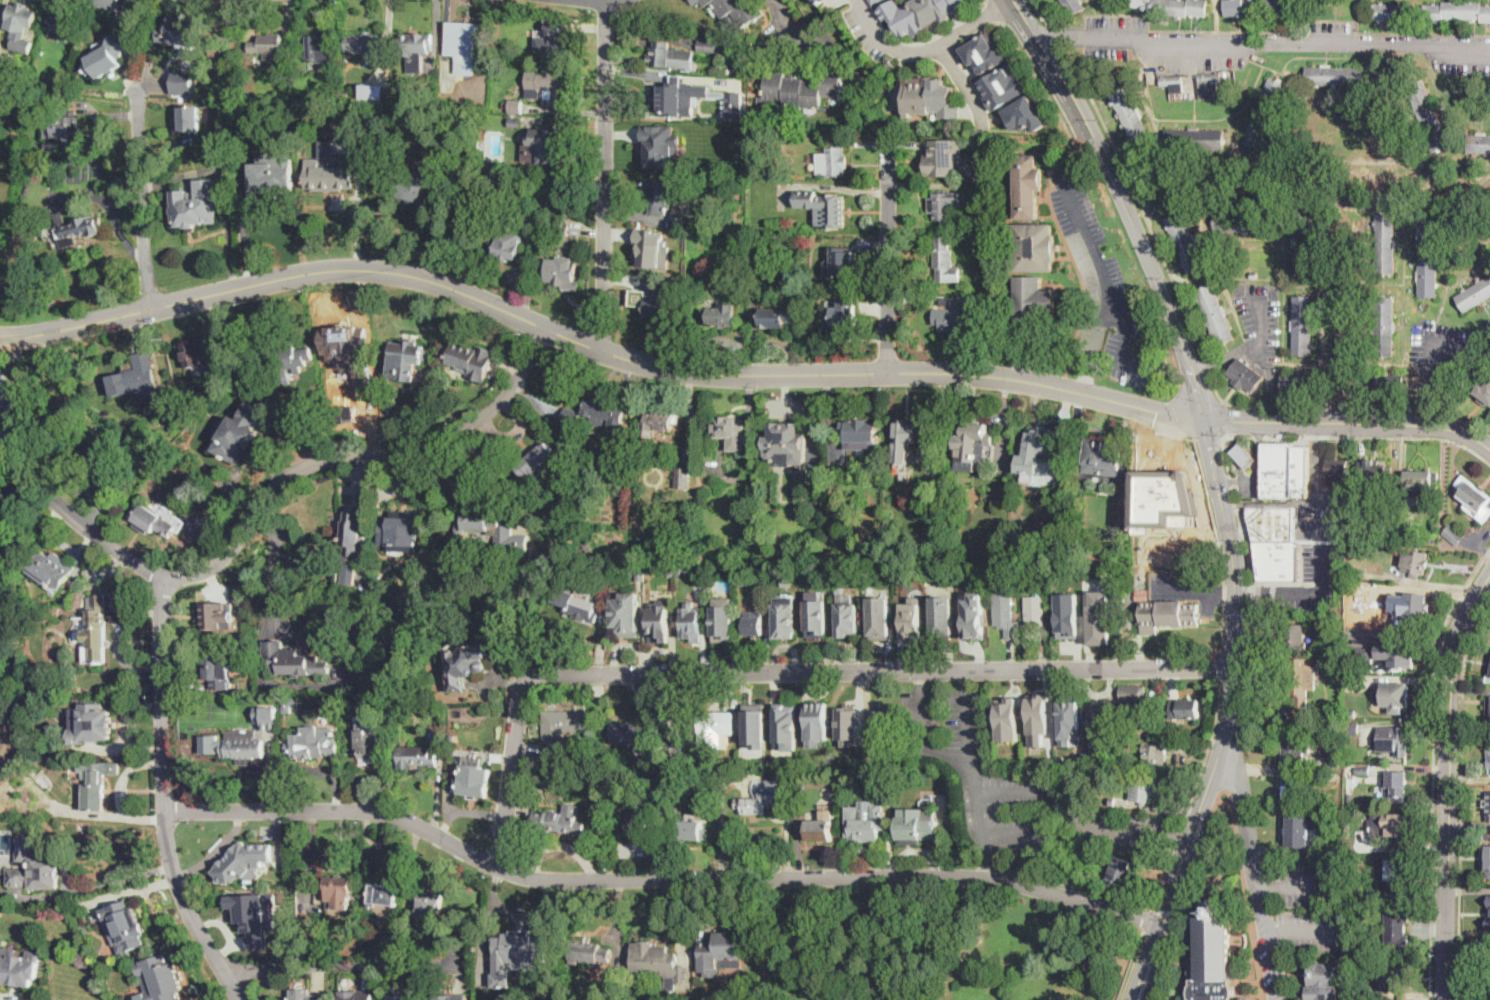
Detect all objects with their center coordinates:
building: (694, 1)
building: (818, 1)
building: (875, 1)
building: (111, 4)
road: (591, 5)
building: (1073, 5)
building: (1176, 6)
building: (1253, 6)
building: (1457, 10)
building: (736, 11)
road: (995, 11)
building: (1391, 11)
building: (920, 13)
road: (1040, 13)
building: (20, 18)
building: (60, 26)
road: (790, 26)
building: (182, 30)
road: (1046, 38)
road: (1056, 38)
building: (552, 40)
building: (364, 43)
building: (467, 44)
building: (713, 45)
building: (268, 46)
building: (320, 48)
building: (415, 49)
road: (931, 49)
road: (1043, 49)
building: (984, 52)
building: (108, 56)
building: (671, 56)
building: (892, 60)
building: (293, 68)
building: (731, 72)
building: (22, 73)
building: (1346, 75)
road: (1039, 80)
building: (182, 81)
building: (1174, 82)
building: (22, 83)
building: (1209, 84)
building: (549, 85)
road: (964, 86)
building: (1001, 86)
building: (801, 89)
building: (373, 92)
building: (246, 94)
building: (681, 95)
building: (930, 96)
building: (406, 97)
building: (734, 103)
building: (514, 106)
building: (1265, 112)
building: (1023, 114)
building: (1130, 115)
building: (455, 116)
building: (1427, 116)
building: (188, 118)
building: (515, 122)
building: (760, 131)
building: (70, 132)
building: (1194, 137)
building: (1481, 142)
building: (482, 145)
building: (547, 145)
building: (662, 145)
building: (52, 146)
building: (222, 157)
building: (941, 159)
building: (833, 162)
building: (328, 170)
building: (272, 175)
road: (605, 178)
building: (1028, 186)
building: (420, 187)
building: (661, 194)
road: (1139, 202)
building: (196, 203)
road: (144, 204)
building: (943, 205)
building: (823, 206)
building: (523, 218)
building: (1248, 225)
building: (562, 228)
building: (79, 231)
building: (1185, 241)
building: (1385, 242)
building: (1035, 247)
building: (1303, 247)
building: (651, 248)
building: (507, 249)
road: (1147, 255)
building: (1428, 255)
road: (886, 260)
building: (945, 260)
building: (842, 263)
building: (562, 273)
building: (768, 273)
road: (304, 274)
building: (730, 276)
road: (1105, 281)
parking lot: (1102, 290)
building: (1474, 294)
building: (659, 300)
building: (1032, 302)
building: (842, 312)
building: (1215, 313)
building: (720, 314)
building: (778, 317)
building: (955, 317)
parking lot: (1261, 322)
building: (1303, 325)
building: (1384, 326)
road: (1099, 331)
building: (205, 352)
building: (286, 358)
building: (406, 359)
building: (472, 360)
building: (127, 362)
building: (241, 362)
road: (1207, 366)
road: (903, 372)
building: (1245, 375)
building: (135, 378)
building: (1296, 381)
road: (1085, 382)
building: (1389, 382)
building: (1483, 387)
building: (8, 391)
road: (1194, 394)
road: (1341, 409)
building: (595, 416)
road: (1179, 416)
road: (1228, 419)
traffic signals: (1203, 420)
building: (658, 422)
road: (1349, 423)
building: (73, 428)
building: (728, 428)
building: (859, 431)
building: (976, 433)
building: (790, 436)
road: (1260, 437)
building: (237, 438)
road: (1208, 438)
road: (1381, 438)
building: (905, 439)
road: (1223, 441)
building: (1036, 442)
building: (1101, 451)
road: (1258, 452)
building: (1244, 455)
road: (1320, 456)
building: (536, 460)
building: (99, 466)
building: (1337, 467)
building: (1286, 470)
building: (1375, 470)
building: (683, 477)
building: (1420, 480)
road: (1231, 481)
road: (1246, 482)
road: (1226, 483)
road: (267, 495)
building: (1474, 498)
building: (1163, 499)
building: (1361, 501)
road: (1279, 503)
building: (1119, 519)
building: (154, 520)
building: (485, 522)
road: (1336, 523)
building: (1271, 524)
building: (1381, 526)
building: (401, 532)
building: (1453, 534)
building: (1432, 540)
road: (1219, 541)
building: (351, 545)
building: (567, 545)
building: (559, 546)
building: (588, 548)
building: (1277, 559)
building: (1415, 562)
road: (270, 566)
building: (53, 567)
building: (1355, 575)
building: (640, 576)
building: (424, 577)
building: (786, 581)
building: (743, 582)
building: (525, 588)
road: (1184, 592)
road: (1225, 592)
road: (1247, 592)
road: (1313, 594)
building: (575, 603)
building: (1395, 604)
road: (1249, 605)
building: (544, 612)
building: (627, 613)
building: (217, 614)
building: (847, 614)
building: (1068, 614)
building: (1169, 614)
building: (942, 615)
building: (972, 615)
building: (1005, 615)
building: (1036, 615)
building: (723, 617)
building: (1099, 618)
building: (817, 619)
building: (911, 619)
building: (785, 621)
building: (691, 622)
building: (394, 623)
building: (659, 623)
building: (754, 623)
building: (878, 623)
building: (94, 630)
building: (1294, 636)
road: (119, 640)
building: (1388, 653)
building: (294, 660)
building: (466, 664)
road: (1222, 666)
building: (1351, 667)
building: (218, 671)
road: (780, 673)
building: (1301, 679)
road: (965, 681)
building: (1354, 682)
building: (1396, 692)
building: (1131, 696)
building: (736, 701)
building: (286, 706)
road: (921, 706)
building: (1185, 708)
building: (1488, 708)
building: (583, 709)
building: (1352, 713)
building: (1085, 714)
building: (1038, 716)
road: (1229, 716)
building: (1007, 719)
building: (1102, 719)
building: (289, 720)
building: (851, 720)
building: (92, 722)
building: (815, 722)
building: (881, 722)
building: (1069, 722)
building: (563, 724)
building: (755, 724)
road: (127, 725)
building: (224, 725)
building: (787, 725)
building: (270, 728)
building: (714, 728)
building: (1140, 728)
building: (1353, 728)
building: (636, 734)
building: (1314, 738)
building: (1394, 739)
road: (968, 740)
building: (372, 744)
building: (310, 746)
building: (1314, 747)
building: (1294, 748)
building: (676, 749)
building: (241, 750)
building: (1003, 752)
road: (1206, 754)
building: (555, 755)
building: (1155, 756)
building: (417, 757)
building: (581, 757)
building: (1333, 757)
building: (1489, 758)
building: (732, 759)
building: (1061, 759)
road: (1434, 766)
road: (308, 769)
building: (1363, 770)
building: (91, 776)
building: (1333, 776)
building: (474, 781)
road: (1448, 783)
building: (1292, 788)
building: (1397, 788)
building: (1143, 790)
road: (121, 792)
building: (731, 794)
road: (165, 795)
building: (765, 797)
road: (1462, 797)
building: (1350, 798)
road: (974, 800)
building: (1112, 800)
building: (1488, 807)
building: (556, 822)
building: (641, 822)
building: (865, 822)
building: (1391, 824)
road: (1114, 827)
building: (692, 830)
building: (921, 830)
building: (1300, 830)
building: (818, 831)
road: (1178, 837)
building: (1336, 844)
building: (1349, 846)
road: (985, 850)
building: (1488, 859)
building: (244, 861)
building: (1083, 866)
building: (34, 867)
road: (1258, 867)
building: (1119, 874)
building: (1398, 874)
road: (122, 878)
road: (1164, 878)
building: (258, 880)
road: (659, 880)
building: (337, 885)
road: (1299, 886)
road: (1078, 887)
road: (1271, 888)
building: (383, 894)
road: (1185, 895)
building: (428, 902)
road: (1166, 910)
building: (1489, 912)
building: (255, 915)
road: (1149, 919)
building: (124, 926)
building: (1396, 929)
road: (1310, 930)
road: (1275, 932)
building: (805, 941)
building: (385, 943)
building: (427, 943)
building: (513, 945)
building: (722, 947)
building: (589, 952)
building: (1213, 955)
road: (335, 961)
road: (1134, 965)
building: (660, 966)
building: (18, 969)
building: (115, 971)
building: (1390, 973)
building: (161, 978)
building: (1324, 980)
building: (1485, 992)
building: (356, 995)
building: (308, 997)
building: (404, 997)
building: (452, 997)
building: (1248, 999)

